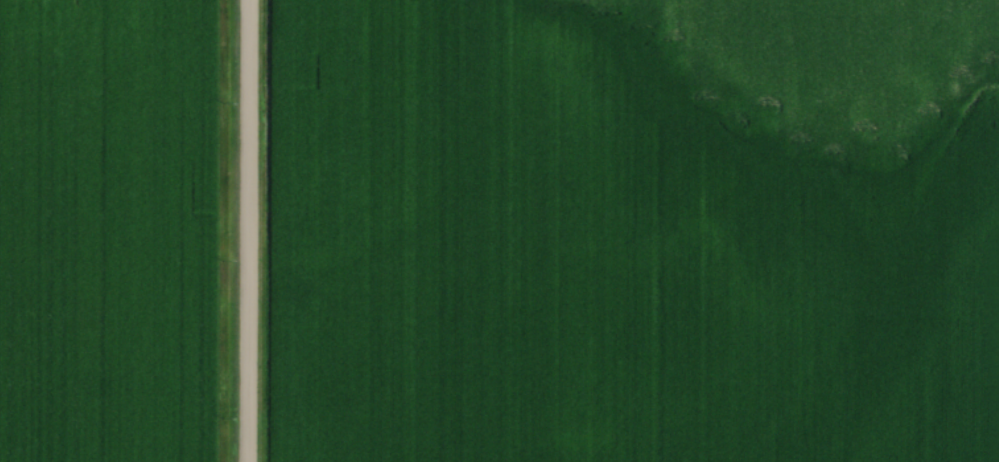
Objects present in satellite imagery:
road: (251, 231)

